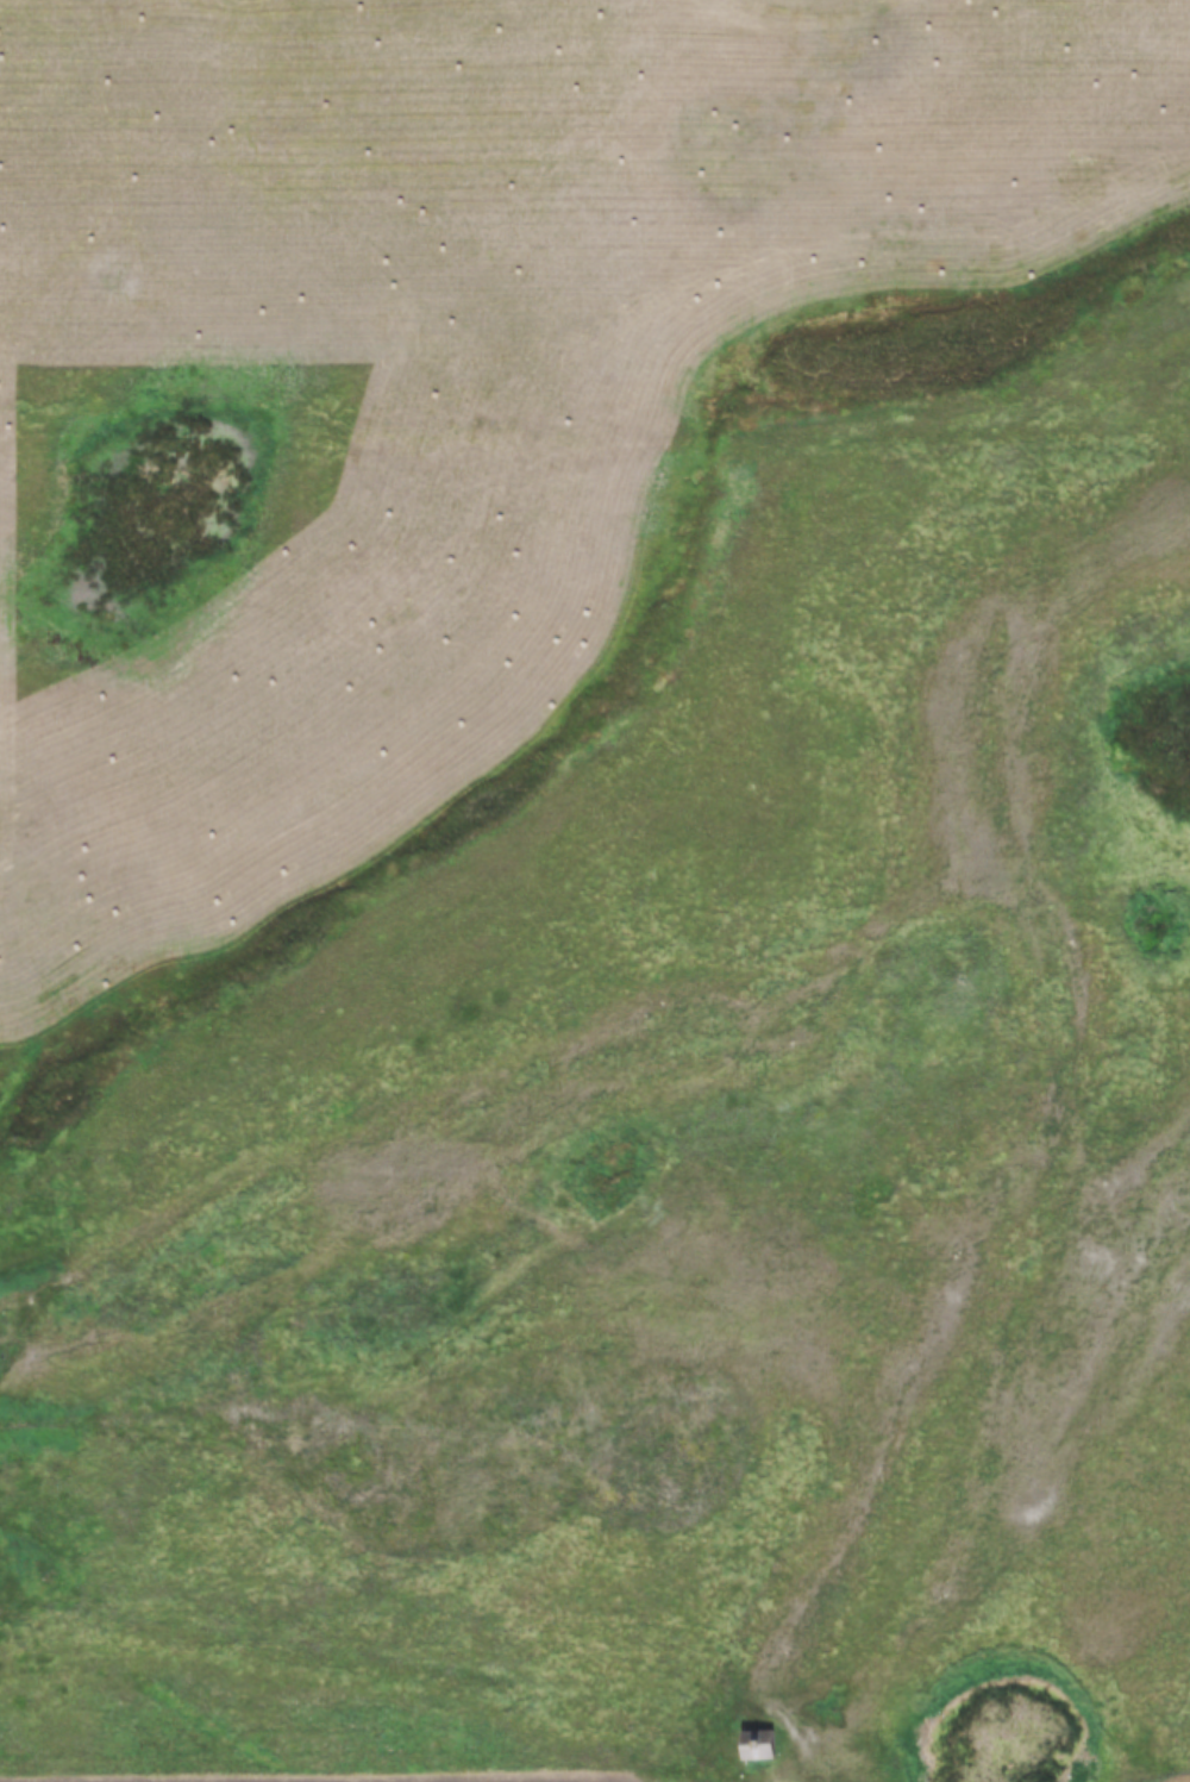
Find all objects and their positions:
road: (278, 1412)
building: (757, 1751)

